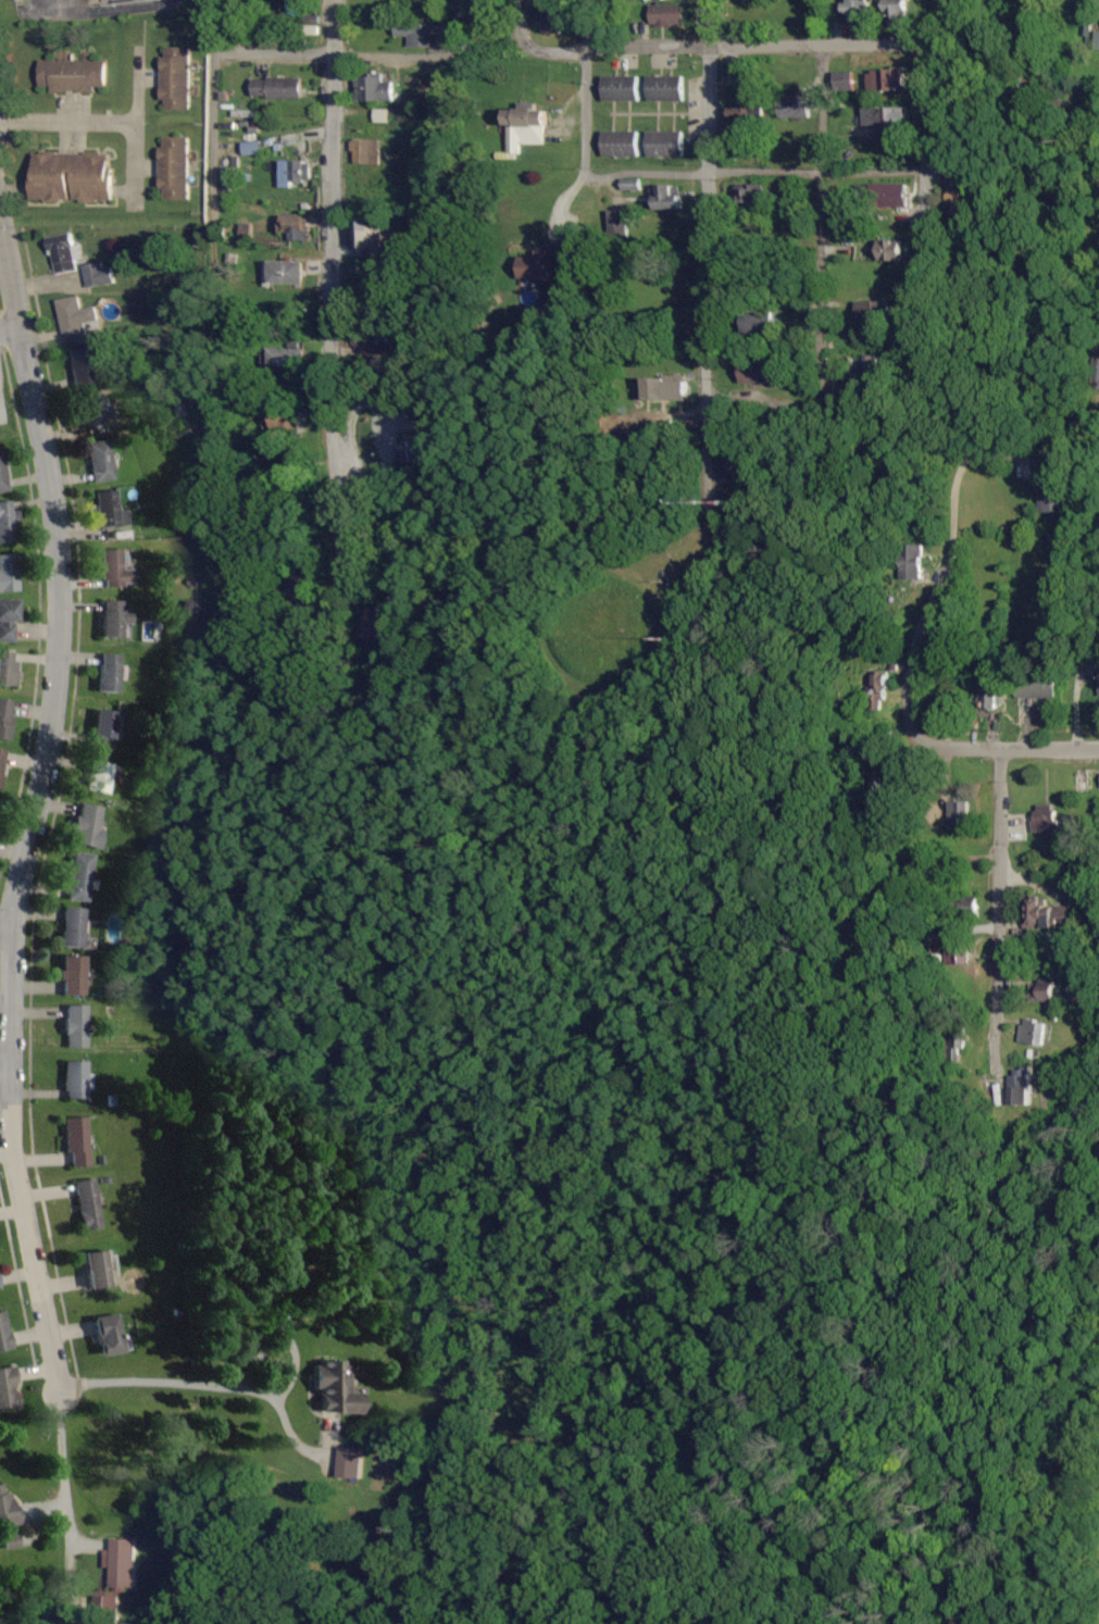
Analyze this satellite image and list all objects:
building: (677, 0)
building: (897, 9)
building: (857, 11)
building: (666, 15)
building: (551, 23)
road: (525, 25)
road: (589, 25)
building: (414, 35)
road: (724, 48)
road: (409, 57)
road: (270, 58)
building: (70, 76)
building: (174, 78)
building: (887, 80)
building: (845, 82)
road: (137, 86)
building: (276, 88)
building: (620, 88)
building: (664, 88)
building: (372, 89)
road: (215, 105)
building: (794, 105)
road: (822, 109)
building: (746, 113)
building: (379, 116)
building: (885, 117)
road: (107, 122)
building: (525, 129)
building: (620, 143)
building: (664, 143)
building: (365, 152)
road: (928, 164)
building: (173, 170)
road: (695, 172)
building: (292, 173)
building: (70, 177)
road: (271, 182)
building: (752, 197)
building: (890, 197)
road: (705, 198)
building: (664, 199)
road: (561, 202)
building: (960, 207)
building: (617, 224)
building: (294, 227)
building: (245, 232)
building: (369, 236)
building: (890, 251)
building: (61, 252)
road: (326, 257)
building: (537, 267)
building: (286, 272)
building: (97, 274)
building: (872, 310)
building: (75, 317)
building: (758, 323)
road: (10, 328)
road: (820, 347)
building: (285, 357)
building: (82, 363)
building: (870, 365)
building: (757, 372)
building: (1098, 376)
building: (664, 389)
building: (95, 408)
building: (279, 420)
building: (416, 450)
building: (100, 460)
building: (732, 469)
building: (1, 479)
building: (1052, 499)
building: (109, 510)
building: (4, 522)
building: (912, 561)
building: (114, 569)
building: (8, 573)
building: (299, 589)
road: (937, 596)
building: (7, 619)
building: (114, 619)
building: (370, 626)
building: (7, 669)
building: (109, 673)
building: (1036, 688)
building: (988, 695)
building: (4, 717)
building: (103, 728)
road: (1016, 745)
building: (0, 757)
building: (97, 776)
building: (875, 792)
road: (33, 805)
building: (959, 813)
building: (1047, 820)
building: (88, 826)
building: (79, 876)
road: (995, 888)
road: (9, 913)
building: (1051, 915)
building: (72, 927)
building: (1049, 952)
building: (72, 975)
building: (1041, 990)
building: (74, 1026)
building: (1033, 1032)
building: (957, 1039)
building: (76, 1080)
building: (1022, 1087)
building: (76, 1140)
building: (86, 1203)
building: (97, 1269)
building: (2, 1334)
building: (107, 1335)
road: (287, 1338)
road: (217, 1385)
building: (7, 1388)
building: (334, 1389)
building: (348, 1462)
road: (64, 1467)
building: (8, 1511)
building: (9, 1541)
building: (120, 1562)
building: (103, 1609)

